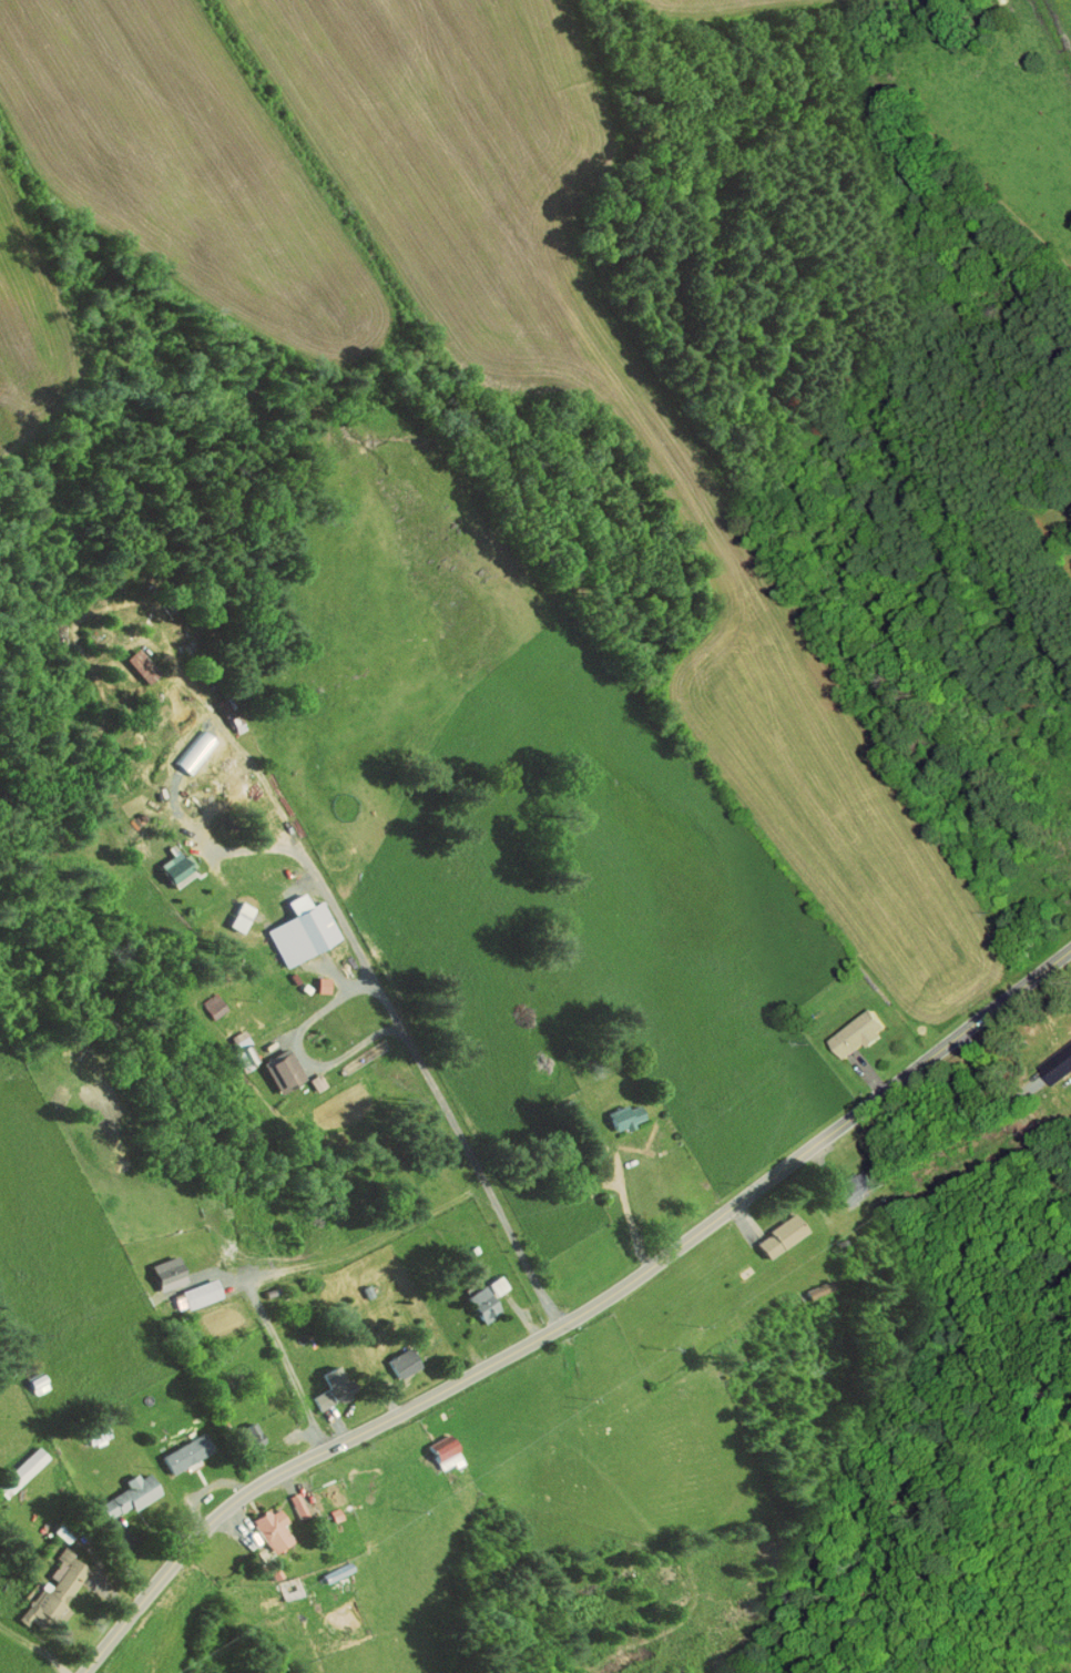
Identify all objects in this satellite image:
road: (185, 904)
road: (360, 952)
road: (1013, 1108)
road: (615, 1198)
road: (577, 1317)
road: (289, 1365)

